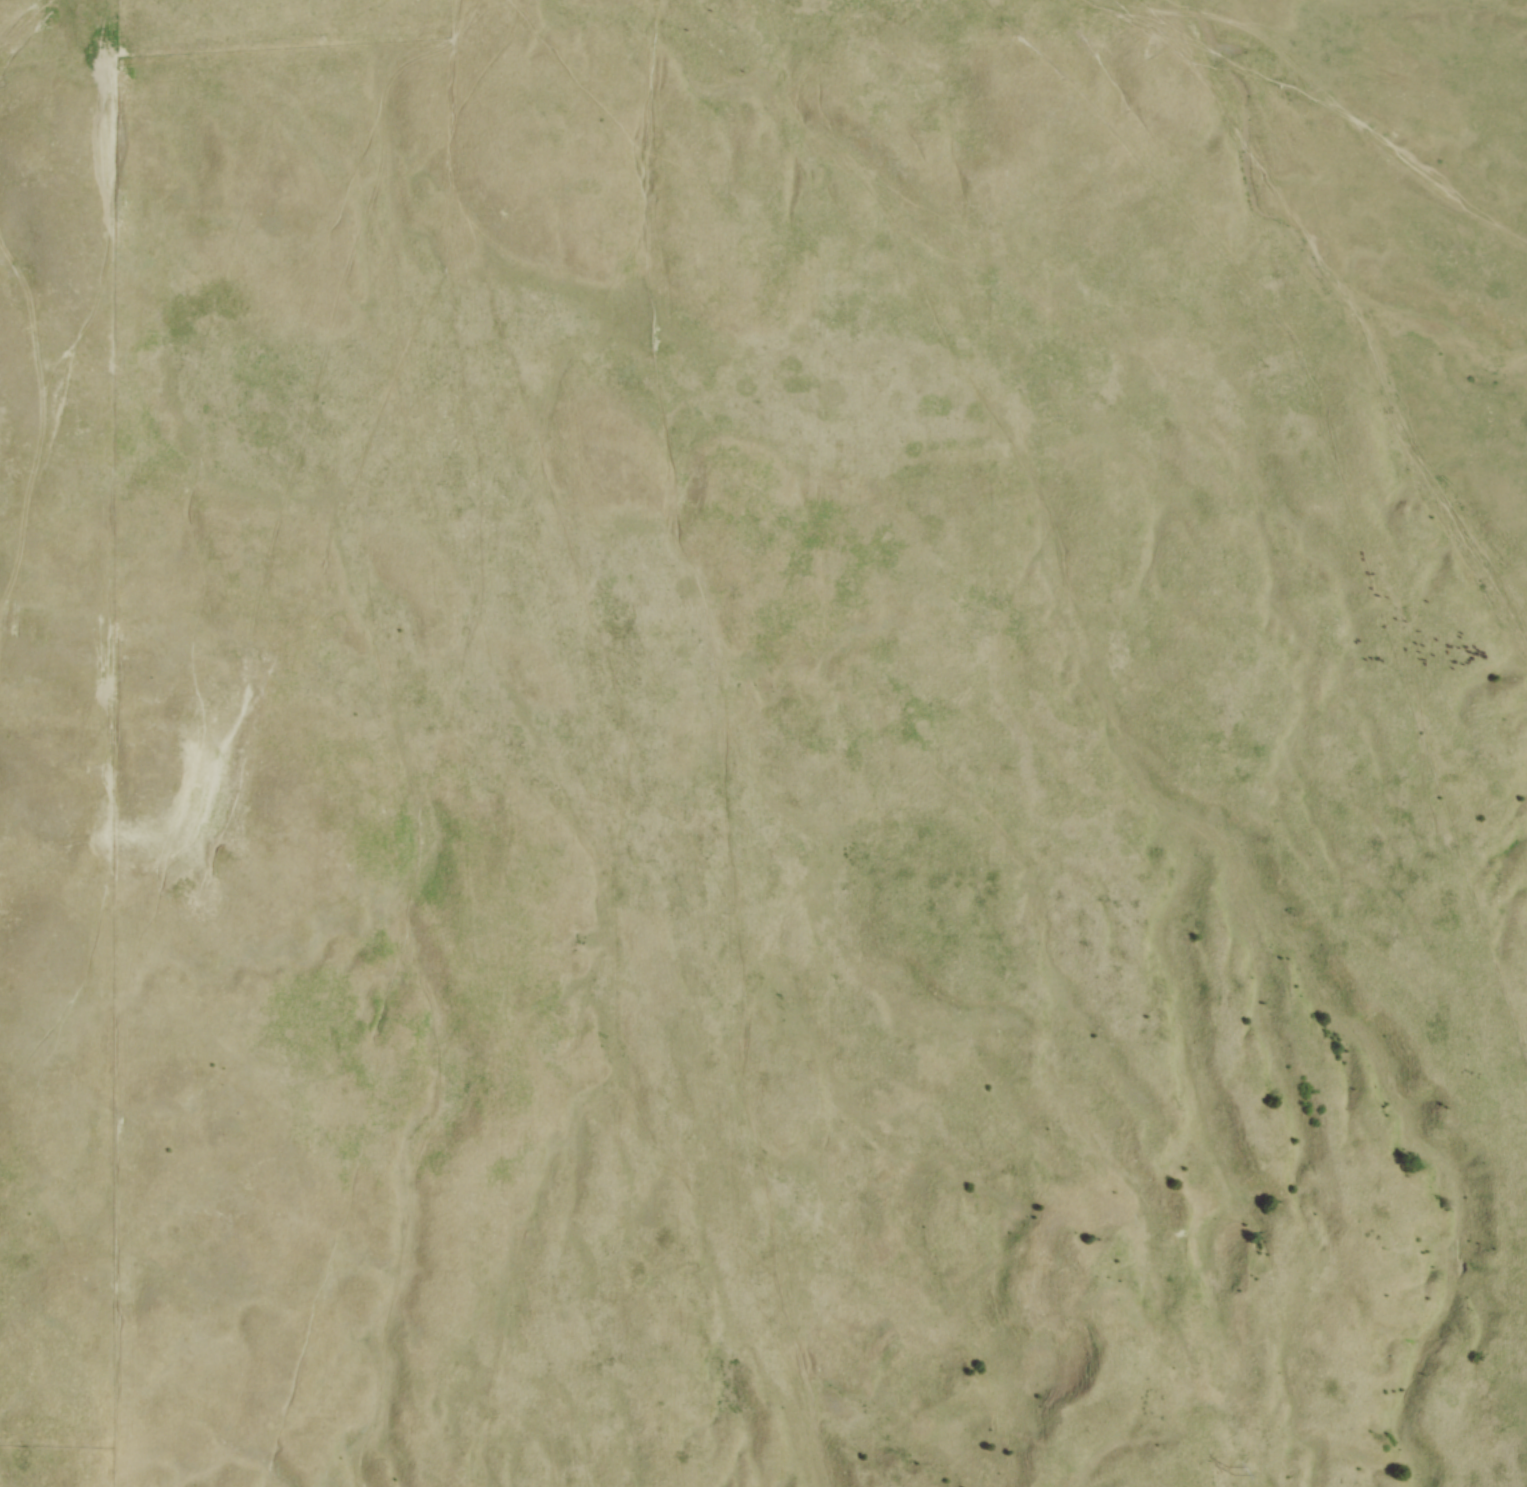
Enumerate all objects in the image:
power tower: (1230, 1471)

